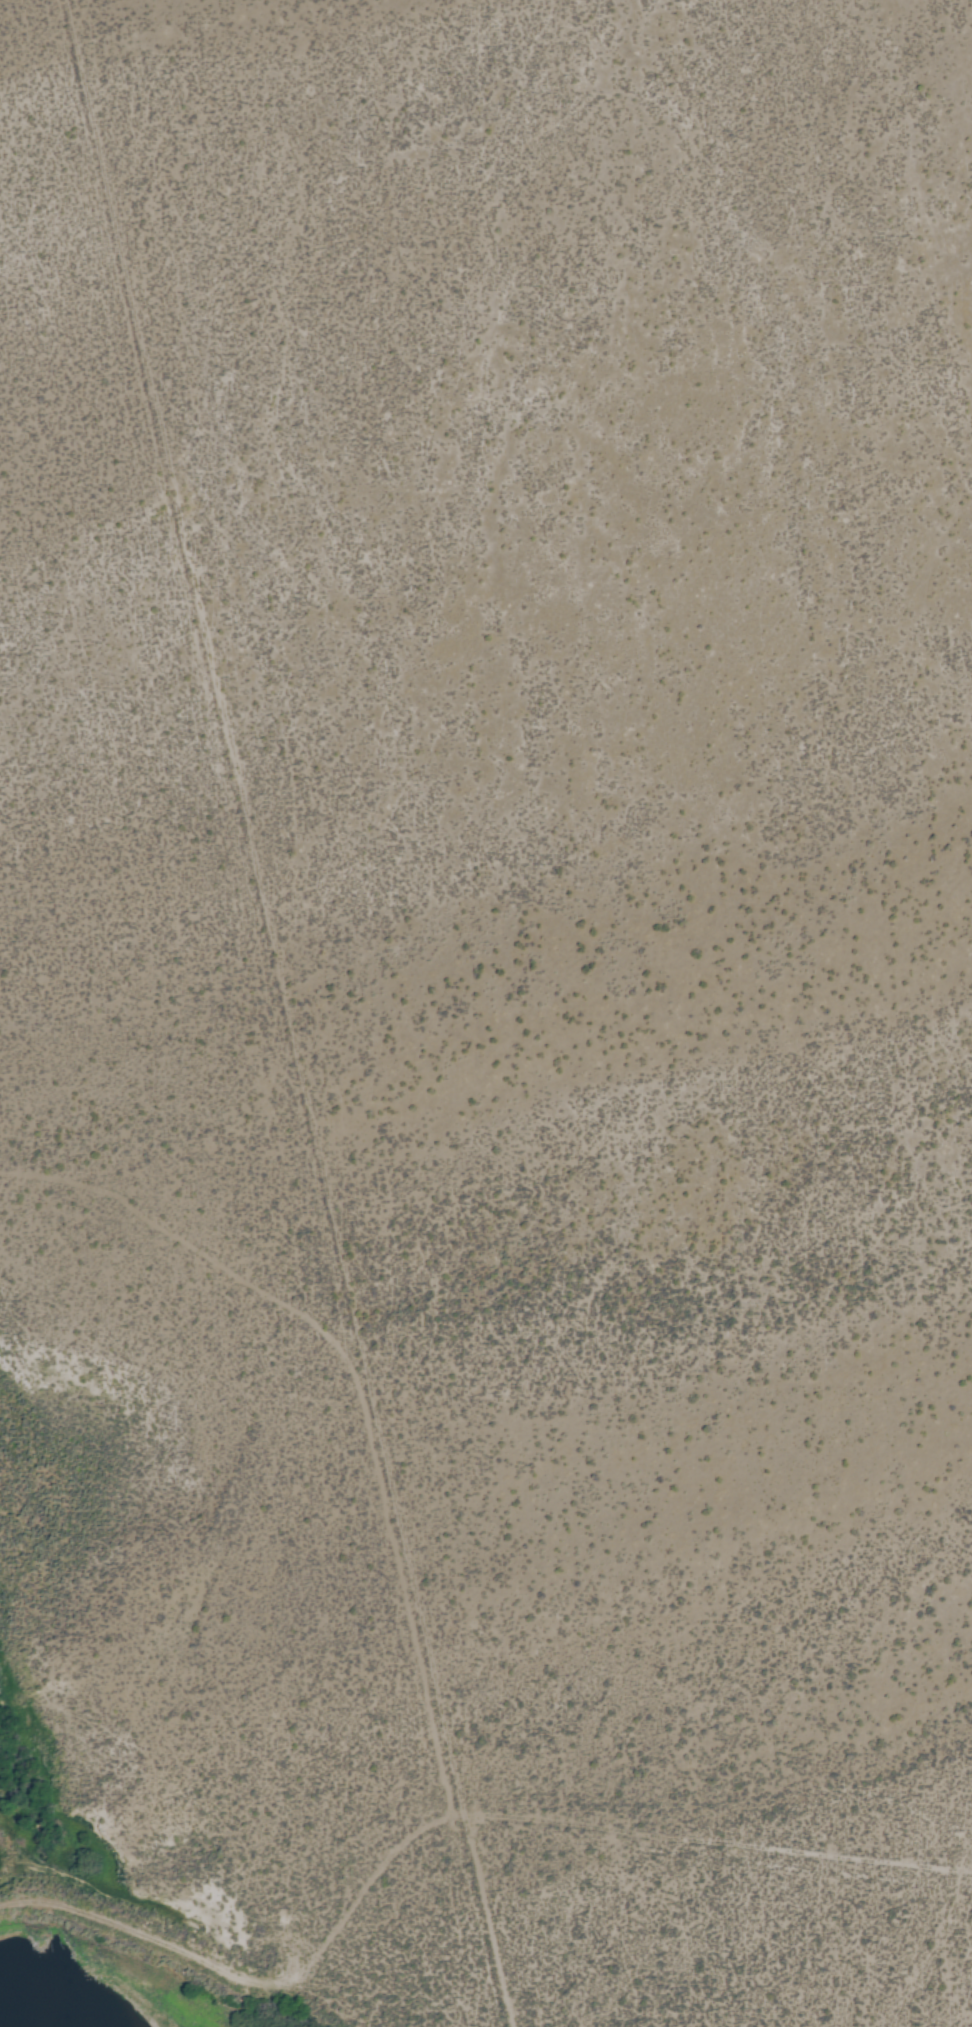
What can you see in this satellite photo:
dam: (126, 1930)

